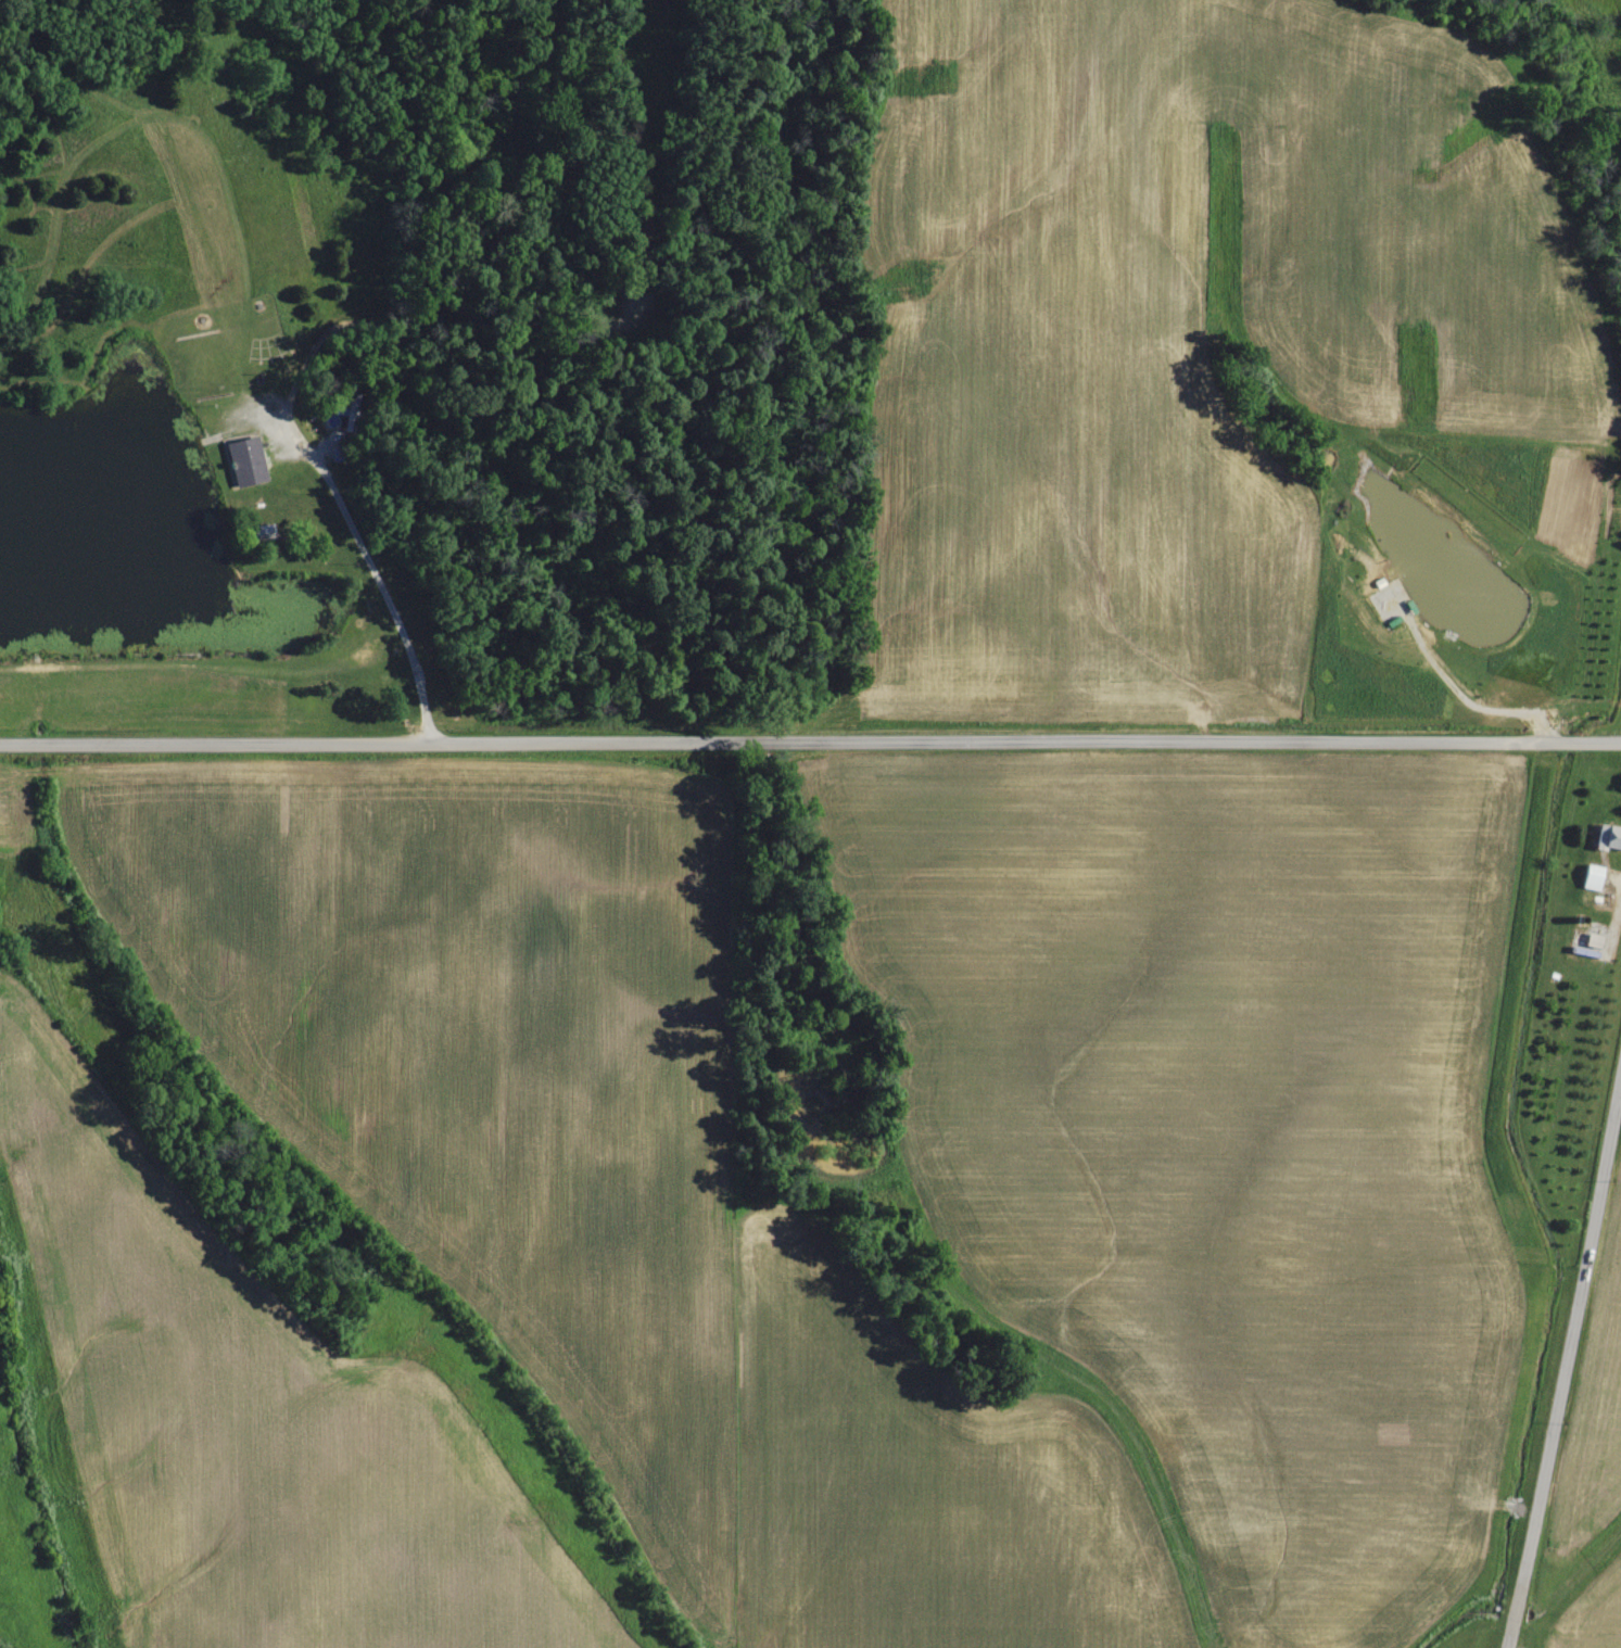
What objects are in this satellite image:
building: (243, 462)
road: (383, 595)
road: (810, 740)
building: (1607, 838)
building: (1591, 878)
road: (1563, 1367)

